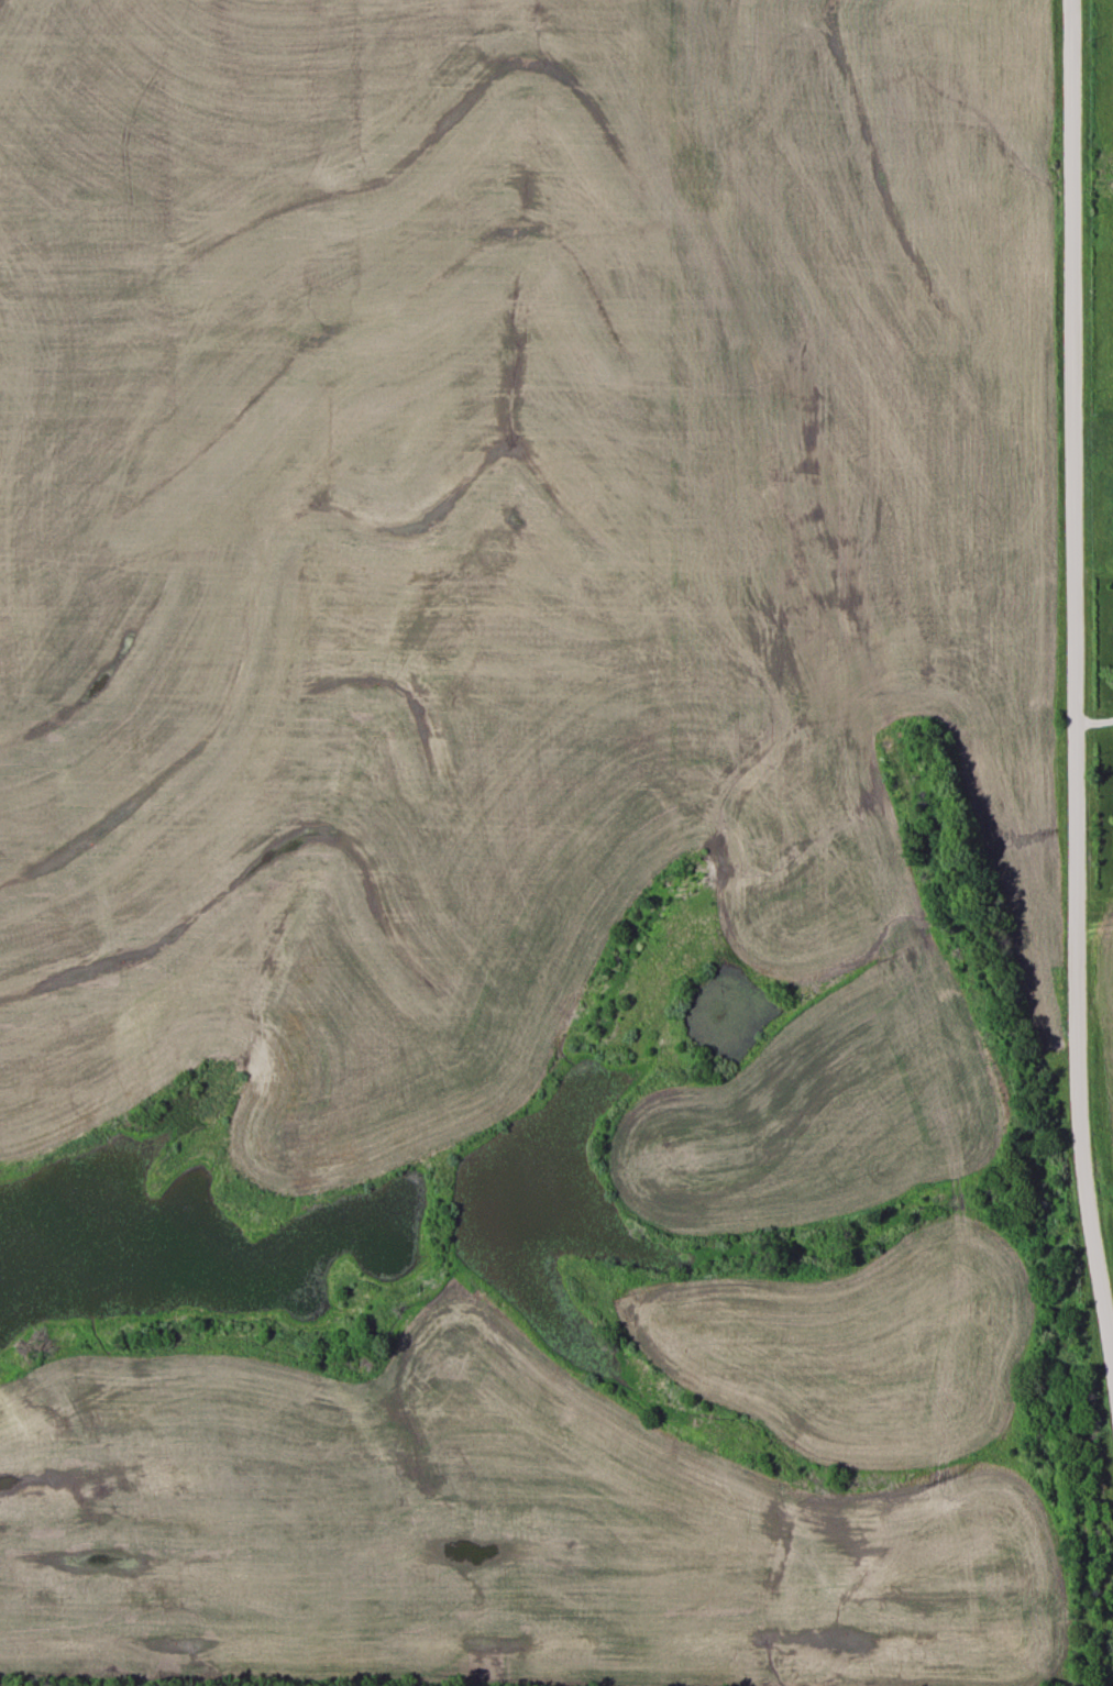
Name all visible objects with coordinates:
road: (1075, 679)
road: (1093, 723)

